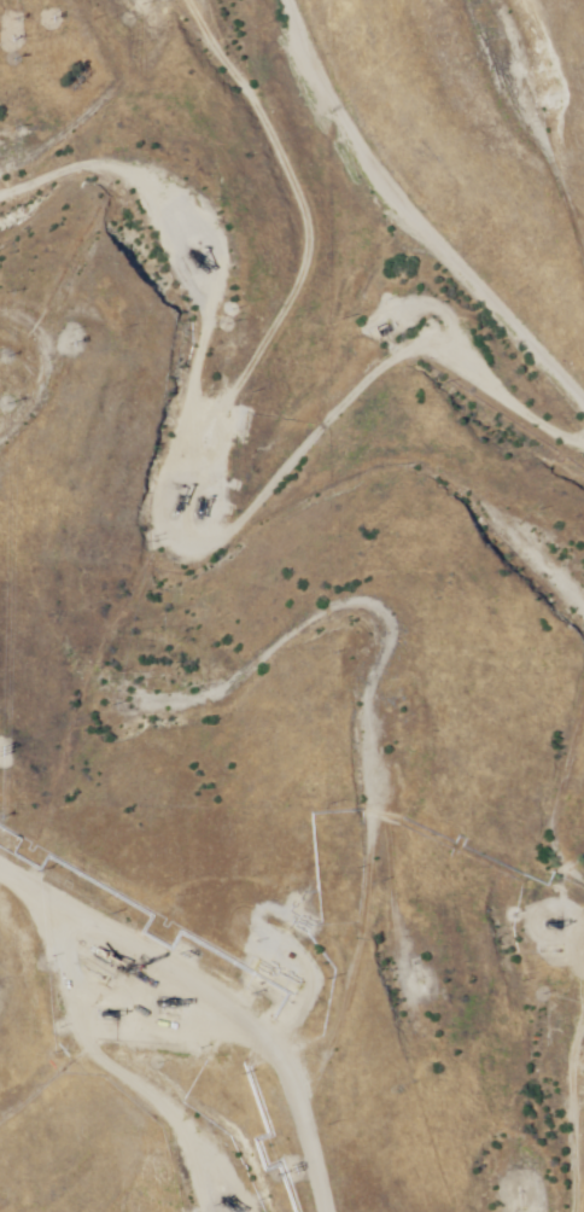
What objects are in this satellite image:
road: (197, 17)
road: (0, 140)
road: (545, 141)
road: (322, 222)
road: (164, 472)
road: (369, 782)
road: (197, 991)
road: (142, 1059)
road: (506, 1097)

